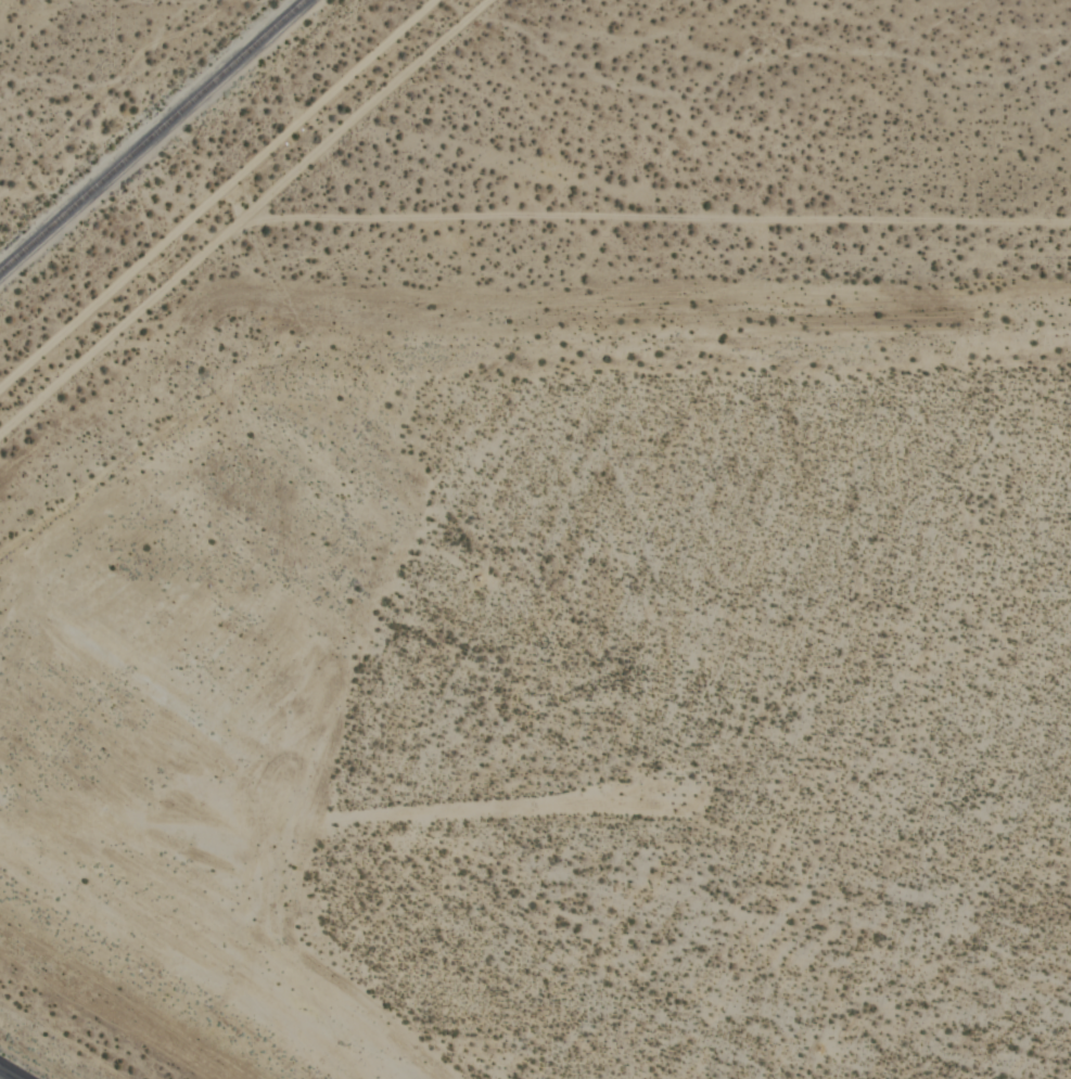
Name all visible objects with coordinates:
railway: (150, 132)
crop: (518, 140)
road: (535, 192)
crop: (544, 676)
road: (8, 1074)

